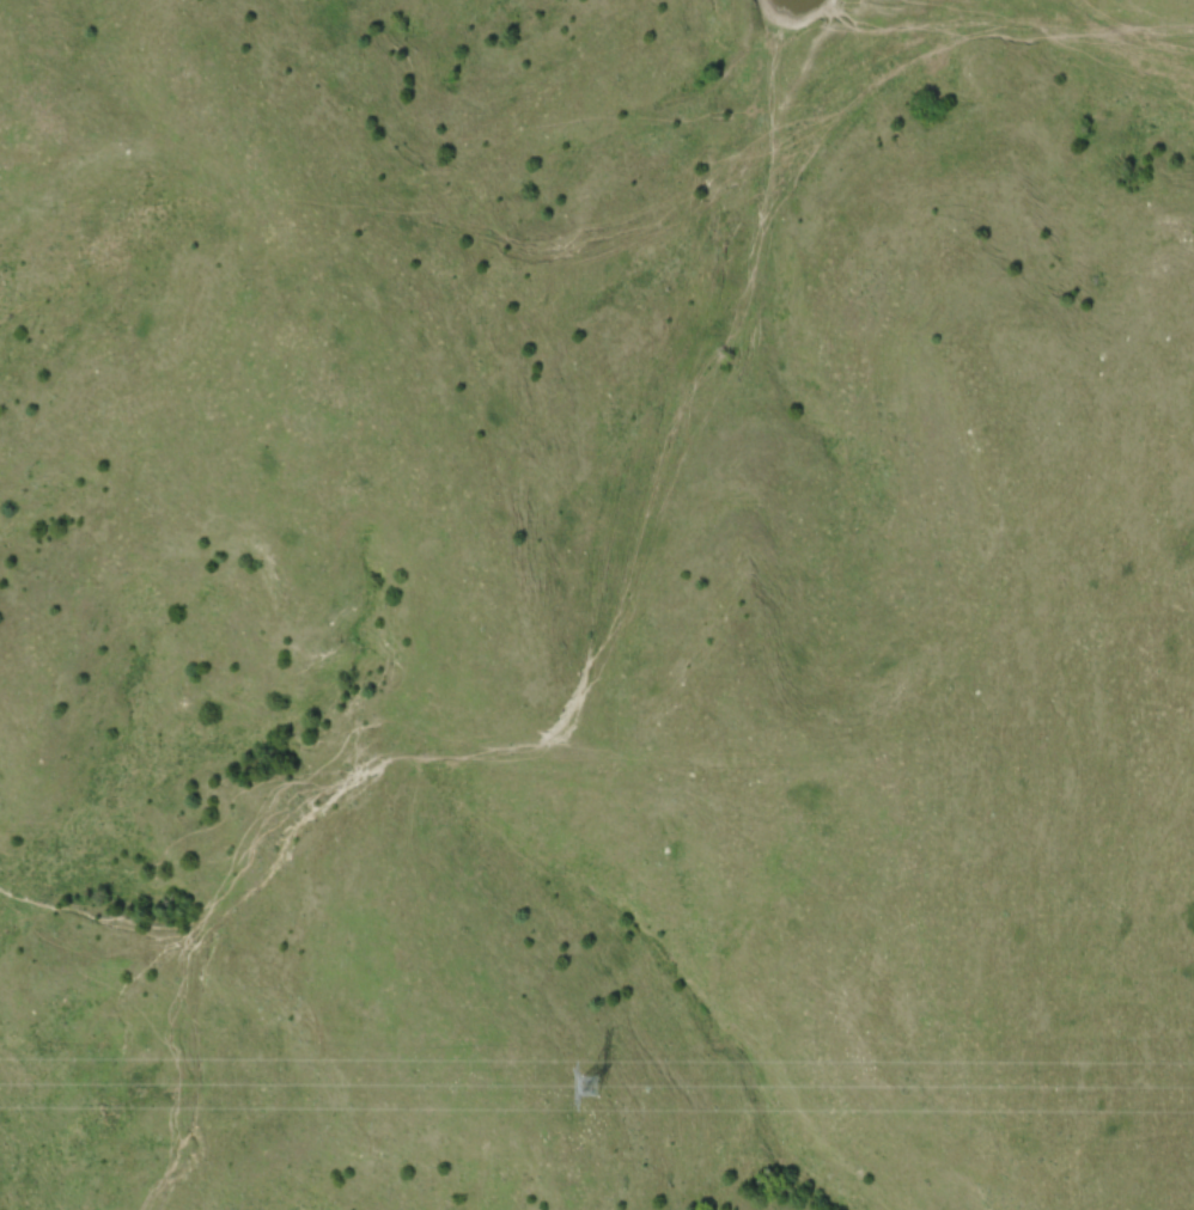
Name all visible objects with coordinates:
power tower: (590, 1088)

